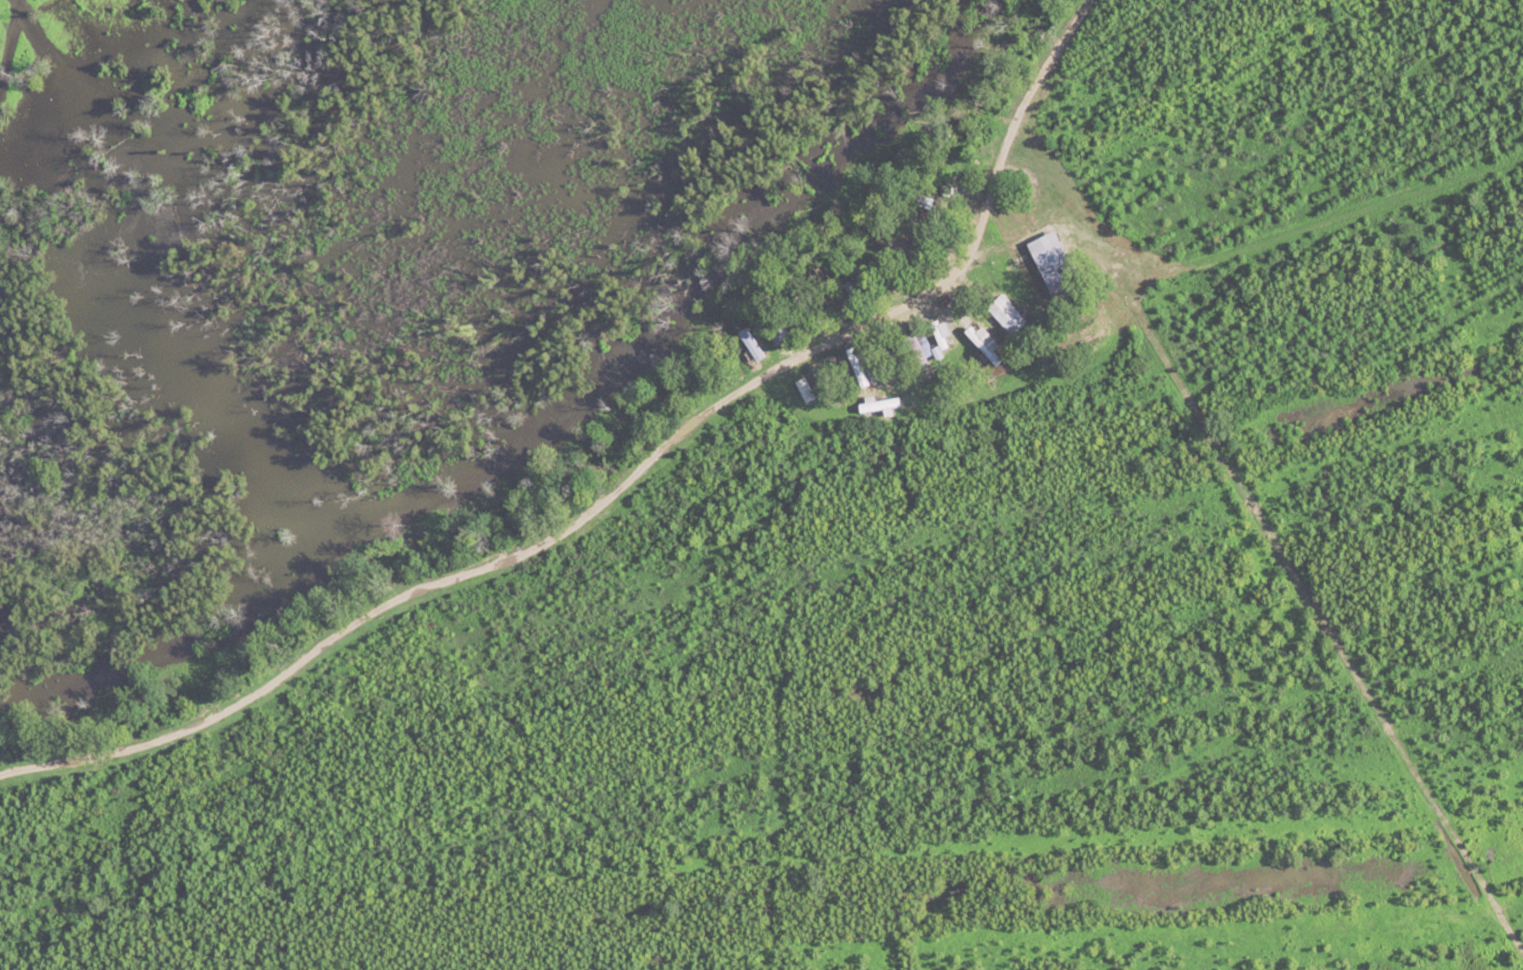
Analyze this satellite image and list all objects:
road: (1010, 124)
road: (501, 560)

